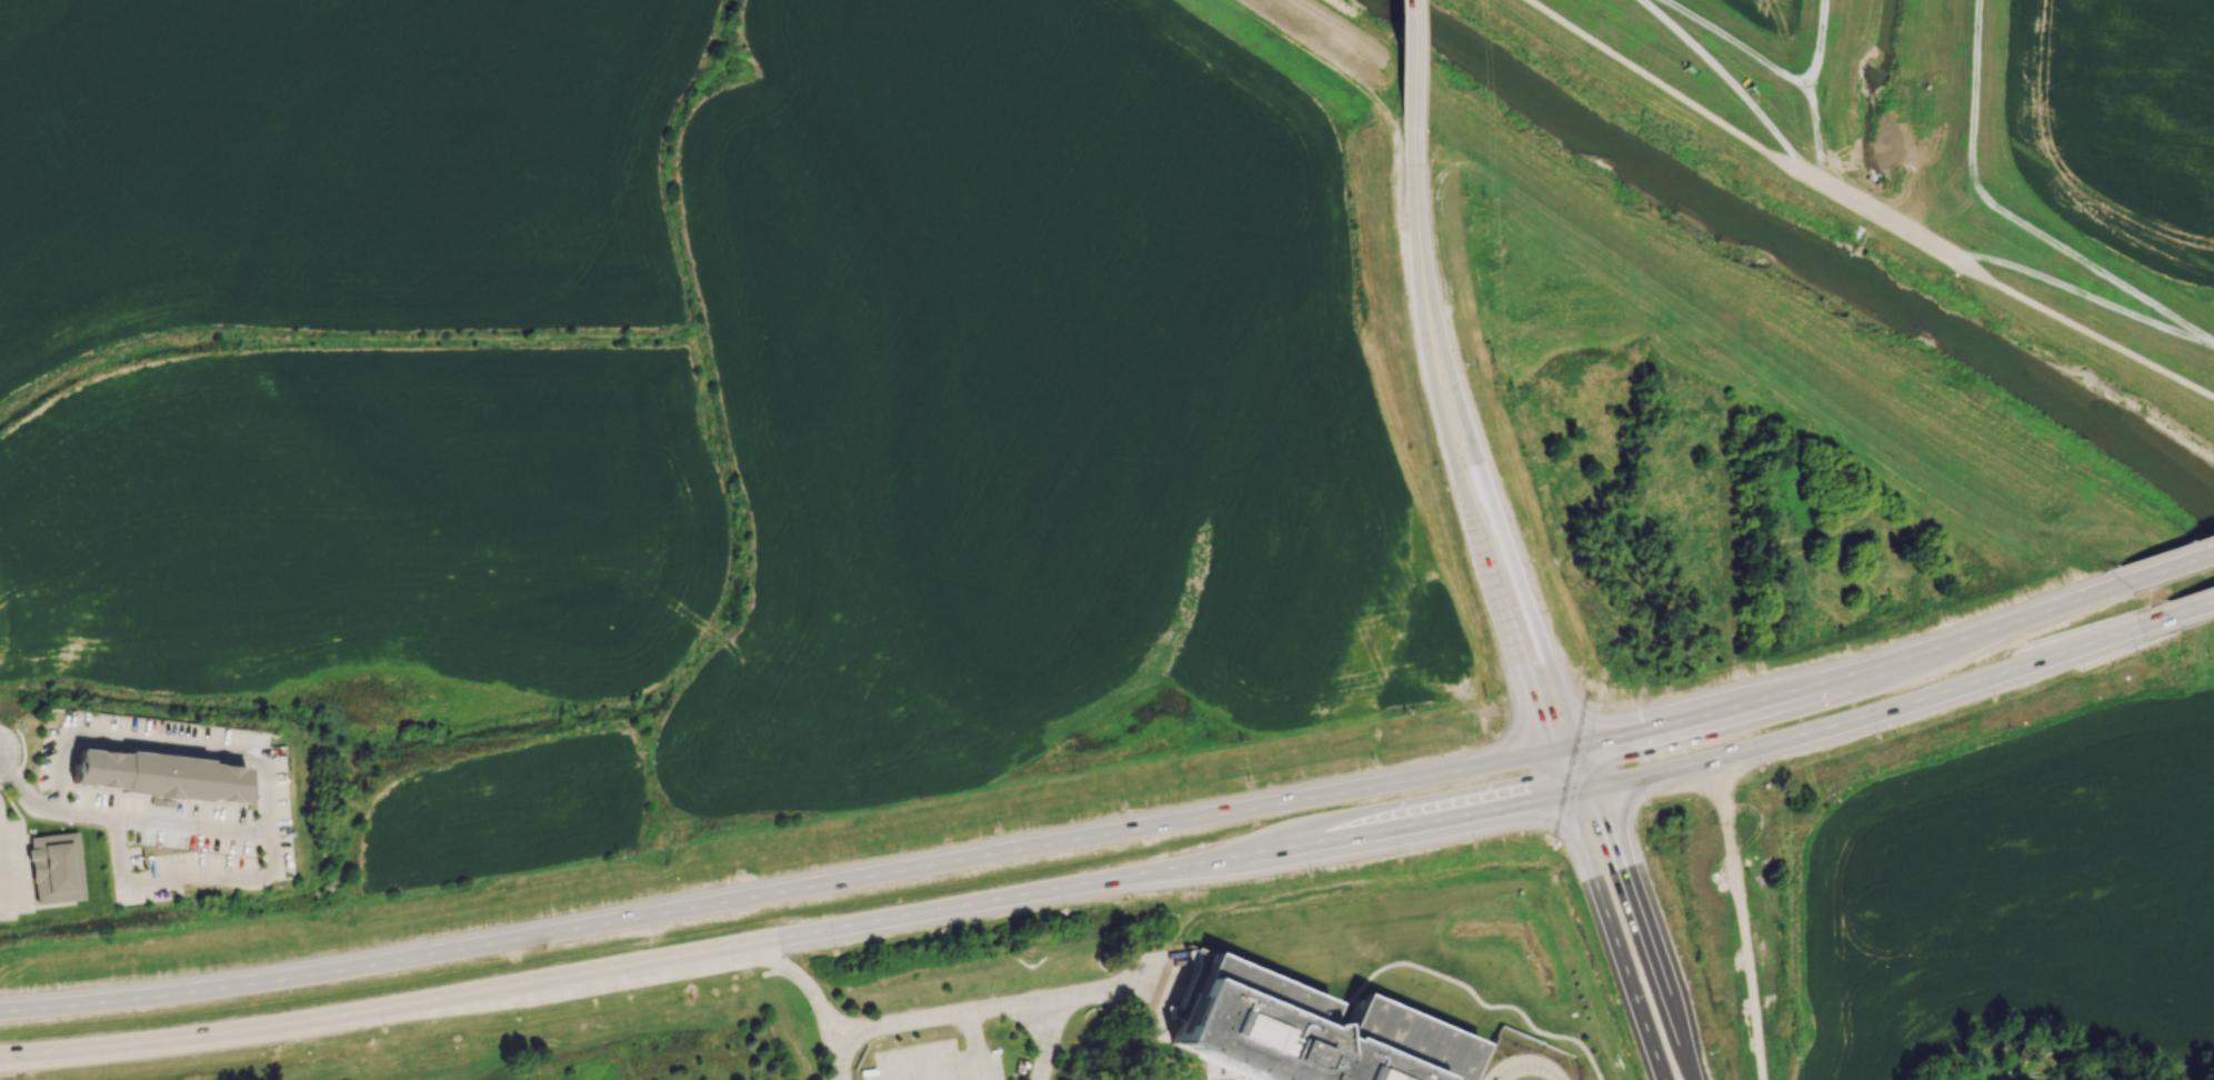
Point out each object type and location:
crop: (1770, 12)
road: (1278, 33)
road: (1735, 44)
road: (1406, 72)
road: (1736, 87)
road: (1812, 90)
road: (1674, 92)
road: (1416, 100)
crop: (2118, 121)
river: (1625, 142)
road: (1391, 187)
road: (1882, 217)
road: (2011, 217)
road: (1435, 227)
road: (1414, 232)
road: (2080, 291)
road: (2076, 326)
road: (1793, 378)
river: (2040, 387)
road: (1457, 483)
road: (2095, 510)
road: (1501, 532)
road: (2182, 556)
road: (2174, 563)
road: (2197, 604)
road: (1857, 669)
road: (1531, 696)
road: (1874, 711)
road: (198, 744)
traffic signals: (1575, 746)
traffic signals: (1550, 751)
road: (22, 759)
building: (158, 772)
road: (58, 773)
traffic signals: (1590, 788)
traffic signals: (1563, 792)
road: (16, 810)
road: (1433, 816)
road: (129, 818)
road: (1233, 853)
building: (53, 868)
parking lot: (12, 869)
road: (181, 874)
road: (789, 889)
road: (944, 907)
road: (1634, 912)
road: (1606, 916)
road: (1743, 918)
road: (1139, 972)
road: (632, 974)
road: (498, 987)
road: (1463, 987)
road: (1141, 991)
road: (1082, 992)
road: (1013, 1003)
road: (910, 1019)
road: (1030, 1021)
road: (1052, 1024)
road: (833, 1027)
road: (972, 1033)
building: (1305, 1033)
road: (825, 1036)
road: (134, 1041)
road: (841, 1054)
road: (954, 1061)
parking lot: (933, 1062)
road: (1524, 1064)
road: (1040, 1066)
road: (905, 1069)
road: (978, 1069)
road: (933, 1072)
road: (2182, 1073)

